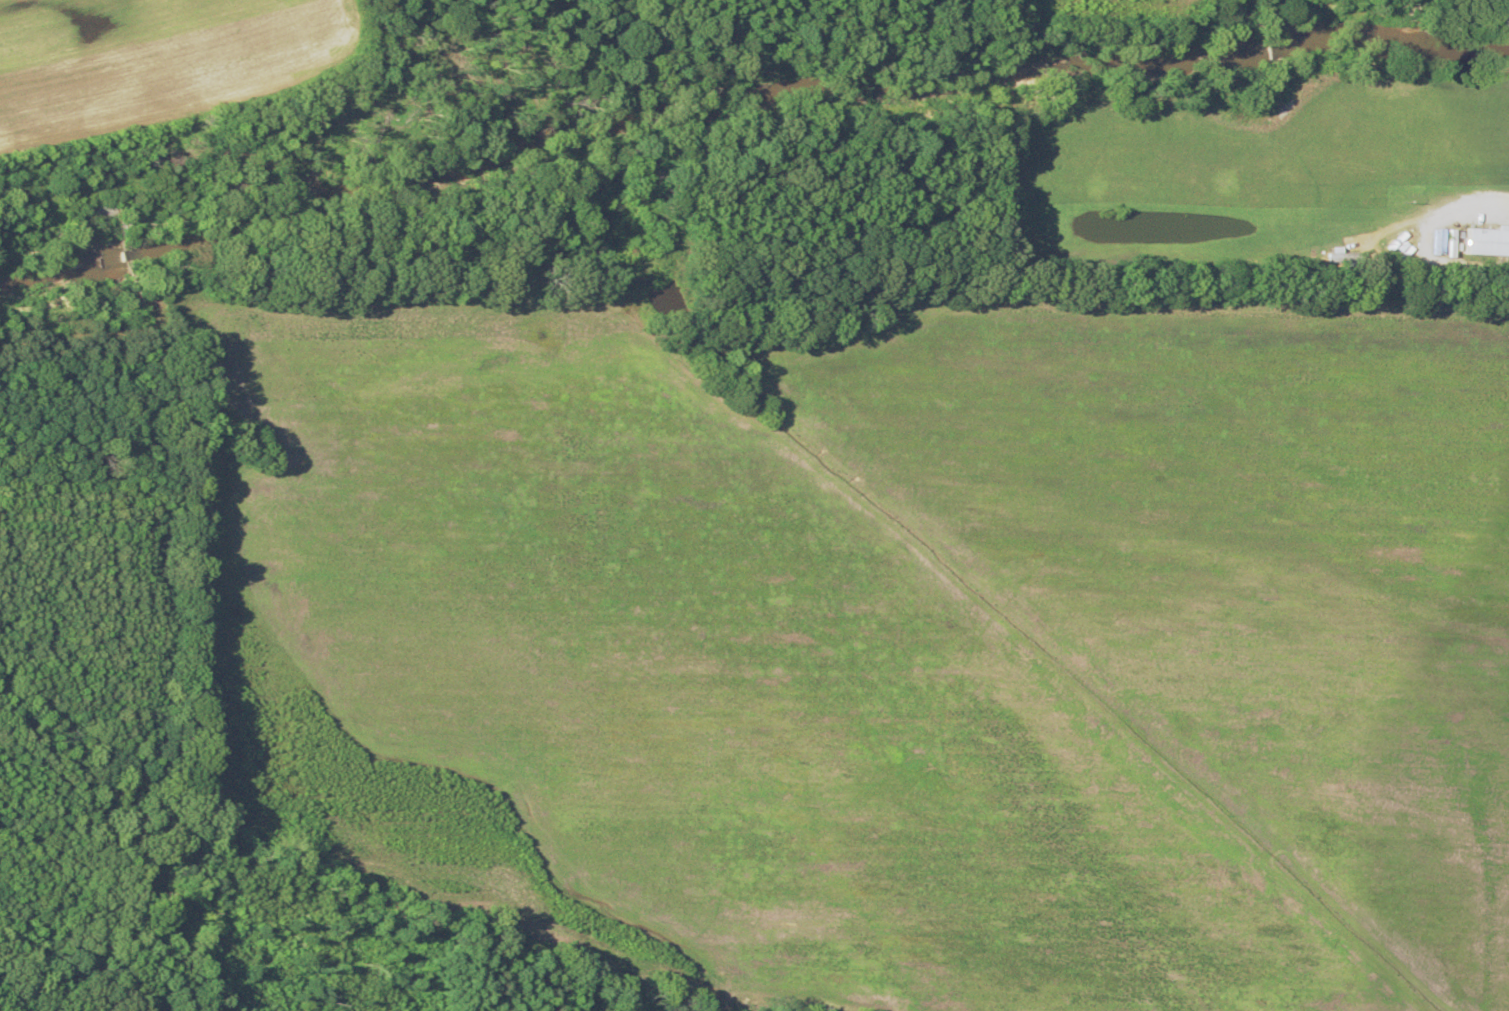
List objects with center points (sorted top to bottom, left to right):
building: (1484, 240)

